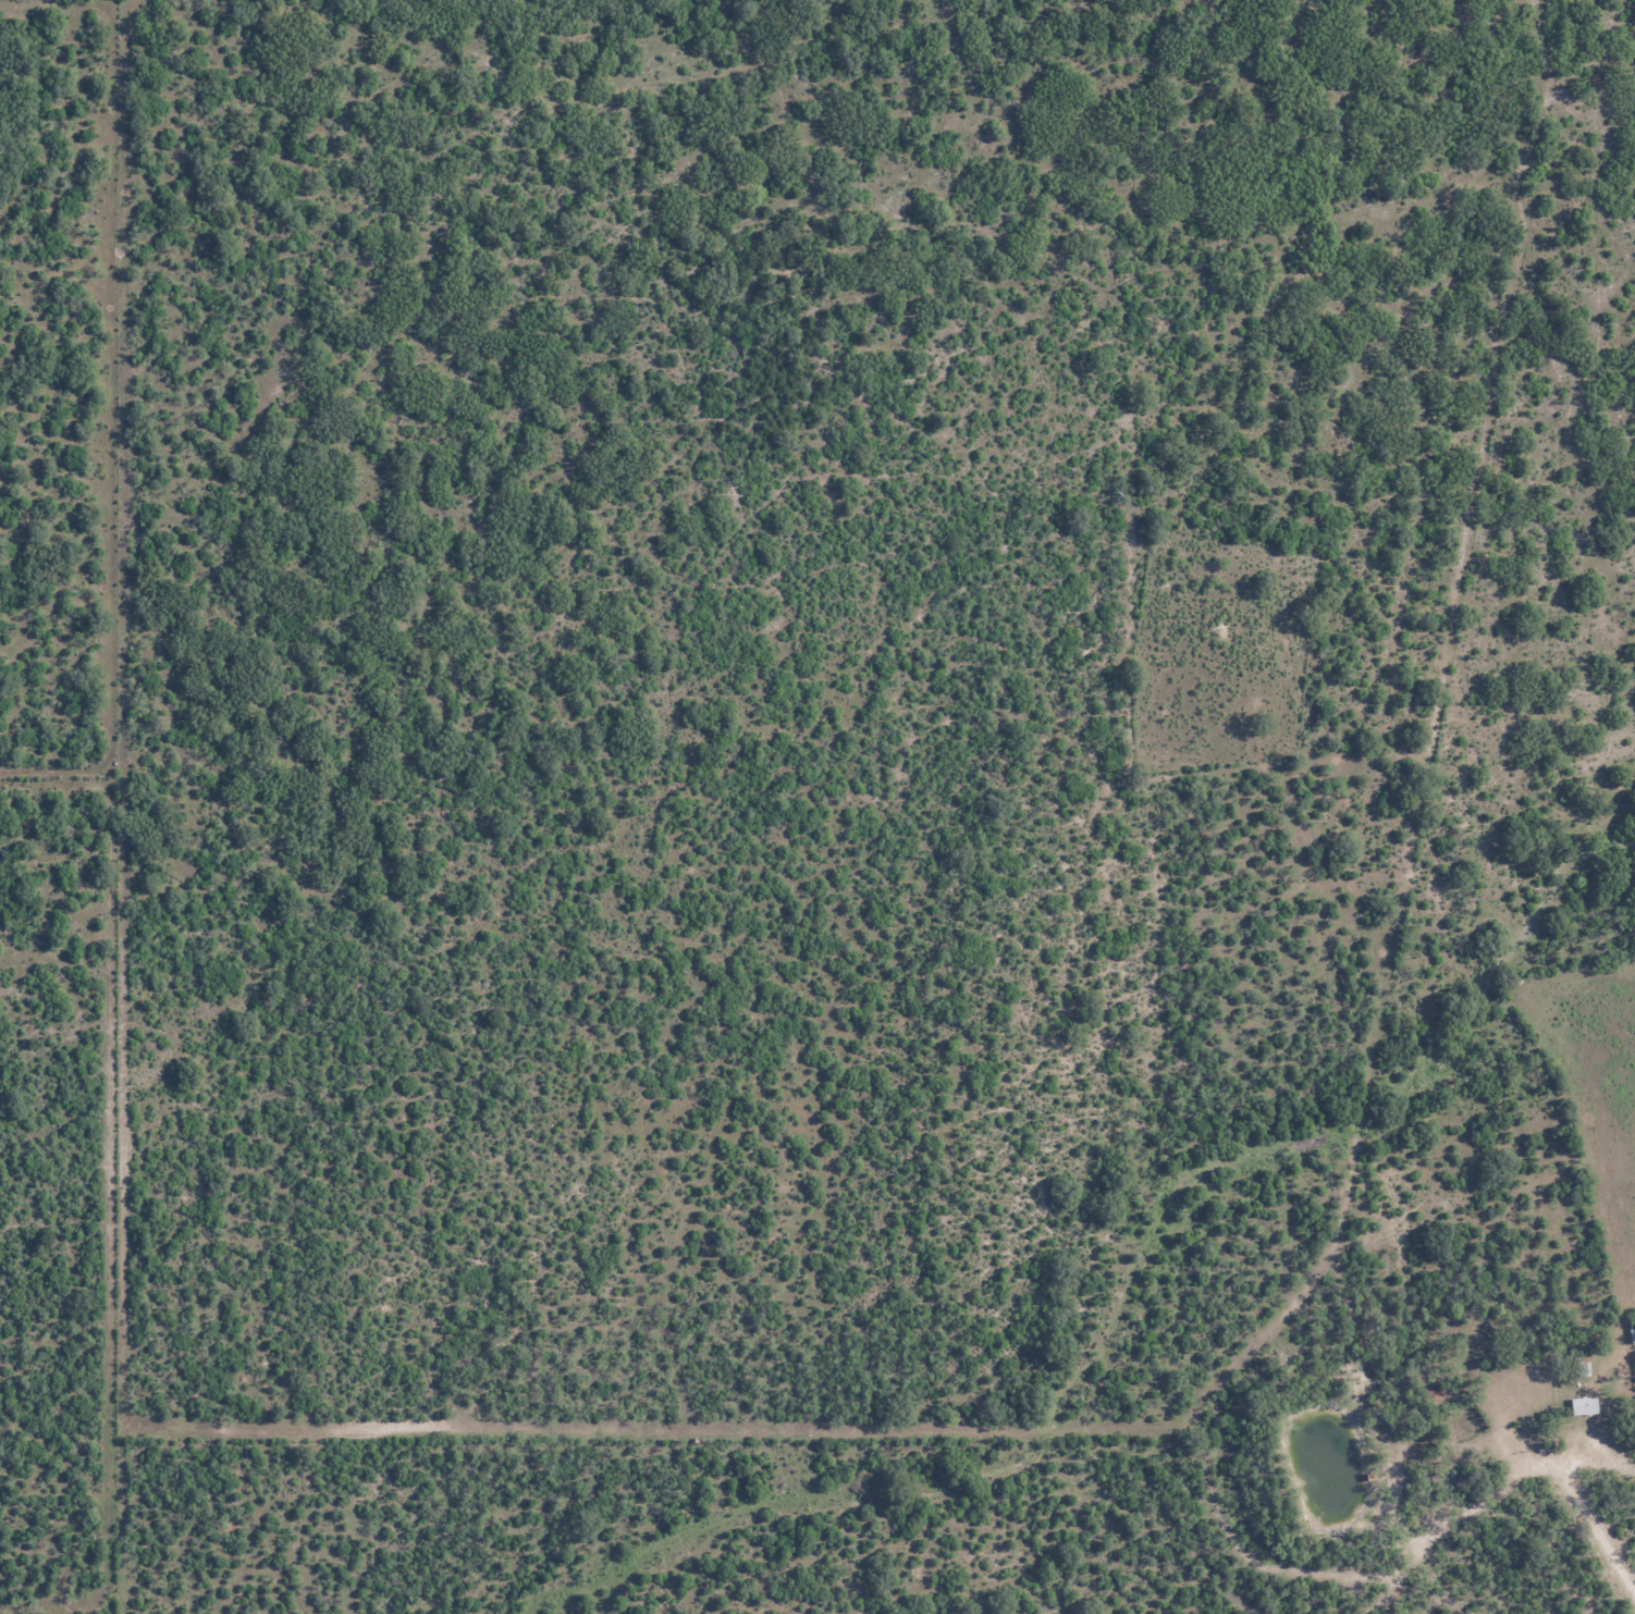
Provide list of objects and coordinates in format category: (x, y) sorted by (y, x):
building: (1583, 1404)
road: (1594, 1526)

